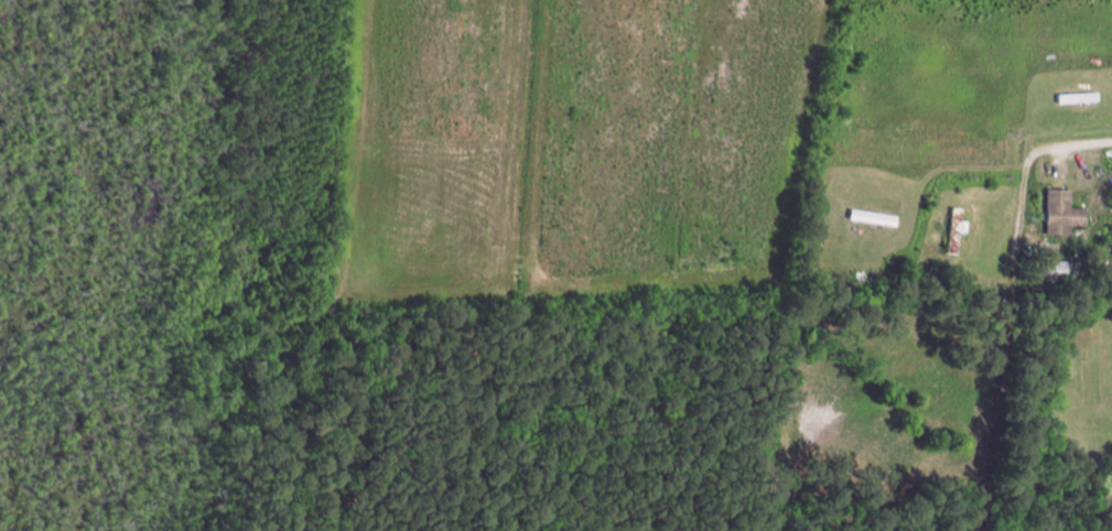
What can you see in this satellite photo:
building: (1075, 96)
building: (1059, 210)
building: (871, 216)
building: (953, 228)
building: (1054, 269)
road: (1011, 299)

